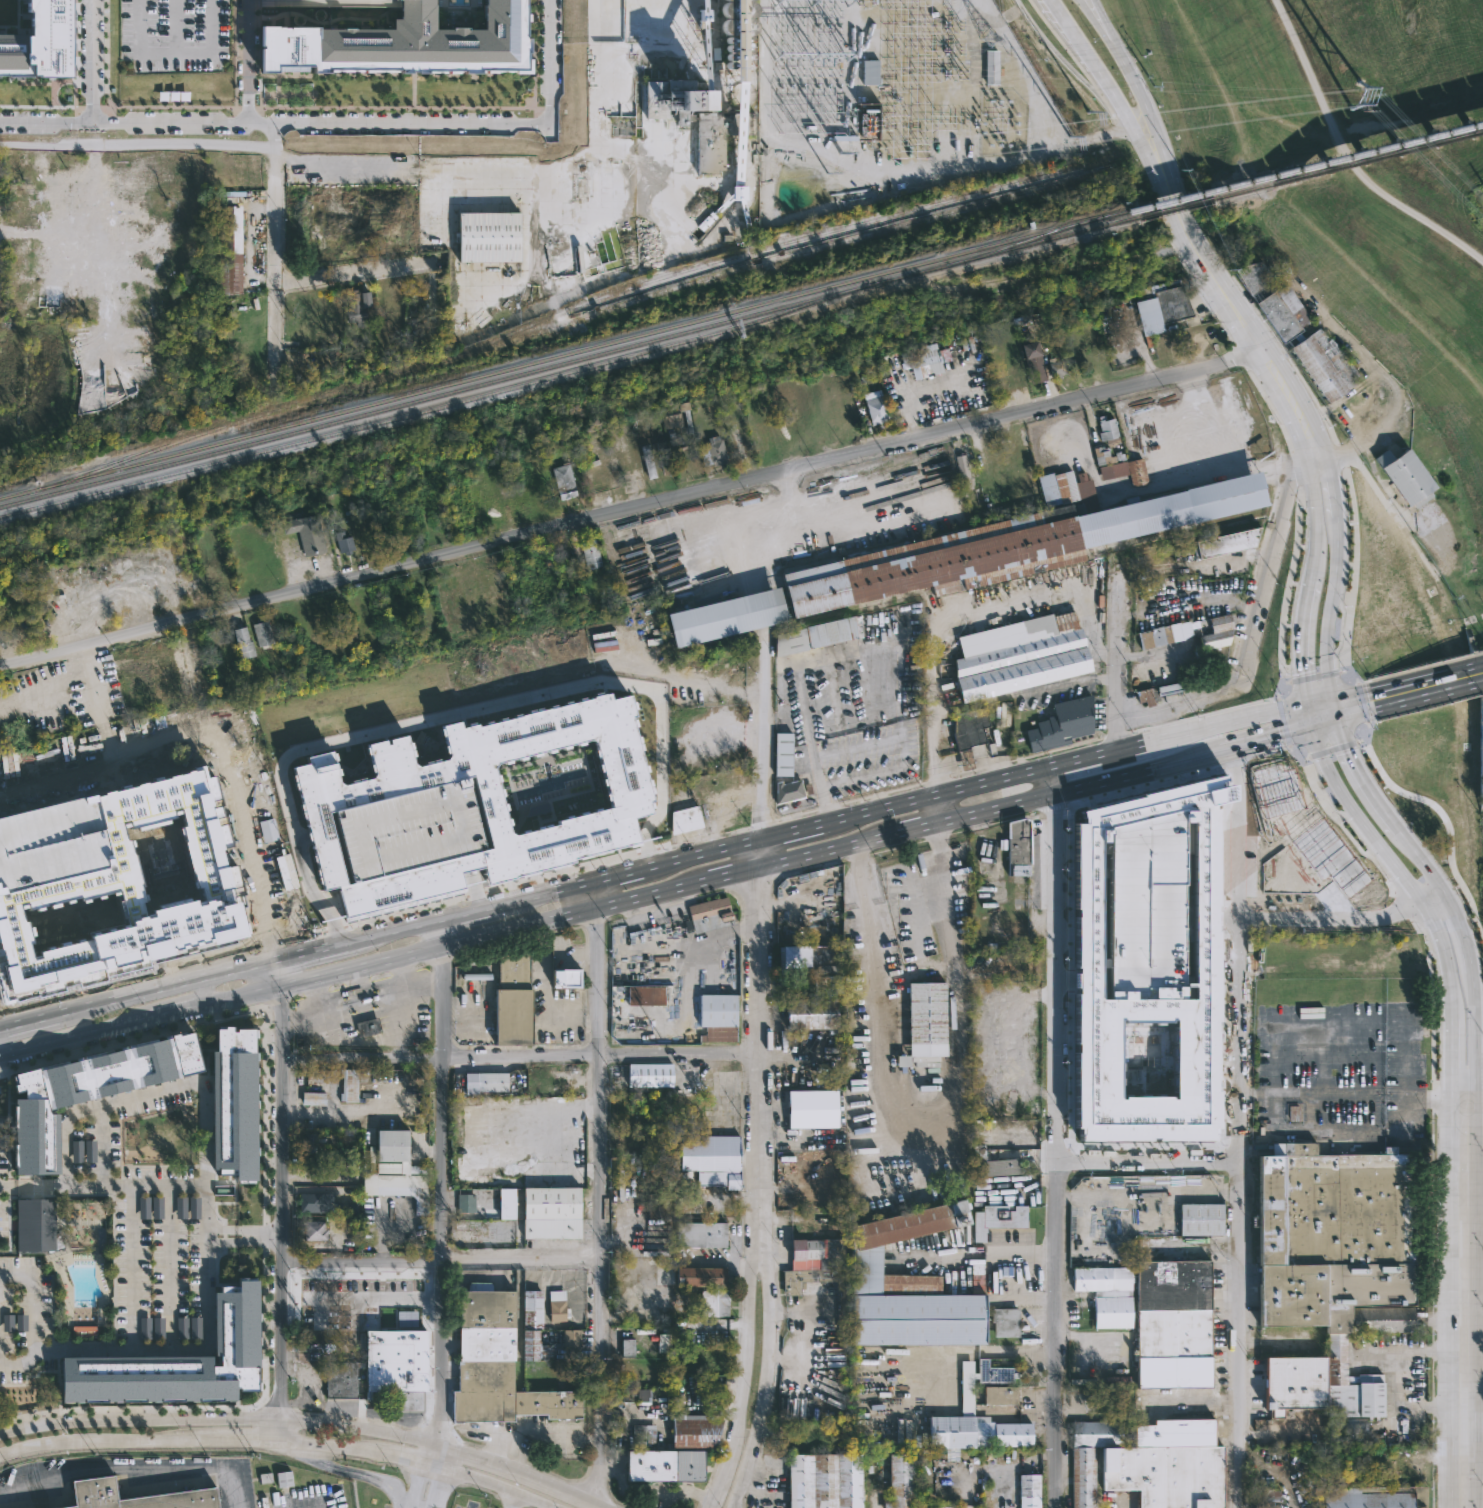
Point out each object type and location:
road: (318, 1)
road: (1091, 22)
road: (1099, 22)
building: (736, 33)
parking lot: (175, 34)
power tower: (983, 36)
building: (39, 42)
building: (401, 42)
road: (171, 52)
road: (97, 61)
road: (549, 62)
building: (991, 66)
building: (870, 71)
road: (1096, 77)
road: (1140, 93)
power tower: (1358, 95)
power substation: (891, 106)
power tower: (1090, 113)
road: (1280, 119)
building: (867, 121)
road: (48, 123)
road: (321, 123)
building: (725, 130)
power tower: (1071, 138)
road: (136, 144)
power tower: (841, 150)
road: (1348, 155)
park: (1355, 161)
railway: (1310, 163)
road: (506, 171)
power tower: (828, 172)
railway: (1311, 172)
road: (273, 179)
building: (489, 236)
railway: (822, 247)
building: (229, 248)
road: (1196, 254)
road: (352, 272)
building: (1253, 275)
road: (1387, 296)
building: (356, 306)
building: (1161, 306)
railway: (565, 309)
building: (1284, 312)
railway: (496, 344)
road: (1142, 346)
railway: (568, 351)
building: (925, 359)
railway: (569, 360)
building: (1035, 360)
building: (1325, 364)
building: (1012, 370)
road: (914, 395)
building: (1355, 403)
building: (874, 407)
road: (1296, 407)
railway: (425, 408)
building: (672, 415)
road: (1090, 419)
building: (714, 450)
building: (1116, 456)
road: (1221, 456)
building: (663, 458)
building: (648, 461)
building: (964, 472)
building: (1408, 476)
building: (563, 481)
road: (1164, 483)
building: (1064, 488)
road: (1332, 491)
road: (791, 504)
road: (629, 510)
road: (1313, 512)
building: (305, 533)
road: (796, 536)
building: (345, 542)
building: (1227, 543)
building: (1007, 547)
building: (590, 554)
road: (1329, 605)
road: (1254, 613)
building: (727, 616)
road: (1302, 627)
building: (261, 632)
building: (1190, 633)
building: (814, 636)
building: (243, 643)
road: (861, 648)
building: (1019, 656)
road: (1116, 658)
road: (1062, 684)
road: (1423, 684)
building: (1161, 692)
traffic signals: (1332, 696)
road: (1348, 697)
road: (1320, 699)
traffic signals: (1308, 702)
road: (973, 704)
road: (1334, 706)
road: (1350, 707)
road: (1273, 710)
road: (1310, 712)
road: (937, 713)
traffic signals: (1337, 716)
road: (1325, 719)
traffic signals: (1313, 723)
building: (1062, 725)
road: (660, 728)
building: (969, 728)
road: (375, 731)
road: (728, 732)
road: (1176, 734)
road: (200, 735)
road: (1268, 735)
road: (761, 737)
road: (858, 744)
road: (1105, 752)
building: (783, 754)
road: (1070, 761)
road: (1359, 777)
road: (1079, 787)
building: (788, 791)
building: (482, 796)
road: (934, 796)
building: (684, 817)
road: (1357, 821)
building: (408, 825)
parking lot: (408, 825)
road: (334, 829)
building: (268, 830)
road: (319, 833)
road: (790, 833)
road: (908, 835)
road: (302, 837)
building: (51, 845)
parking garage: (51, 845)
building: (1018, 846)
road: (760, 856)
road: (822, 856)
road: (466, 860)
building: (164, 861)
building: (1253, 861)
road: (1422, 863)
building: (286, 871)
road: (737, 876)
road: (473, 889)
building: (135, 891)
road: (1433, 903)
parking garage: (1150, 908)
building: (710, 914)
road: (1331, 918)
building: (76, 919)
road: (1460, 933)
road: (377, 934)
road: (458, 941)
road: (1442, 955)
building: (809, 957)
building: (1150, 958)
road: (1054, 965)
building: (566, 979)
road: (412, 980)
road: (380, 983)
building: (827, 983)
road: (205, 991)
road: (342, 993)
building: (650, 995)
building: (511, 997)
road: (179, 1010)
building: (1311, 1011)
building: (811, 1012)
road: (306, 1013)
building: (718, 1017)
building: (925, 1020)
building: (367, 1026)
road: (1475, 1036)
road: (74, 1037)
road: (1451, 1053)
road: (759, 1055)
road: (521, 1057)
building: (925, 1061)
building: (650, 1075)
building: (494, 1081)
building: (348, 1084)
road: (1473, 1090)
building: (86, 1091)
road: (152, 1091)
road: (1245, 1092)
road: (1317, 1092)
building: (312, 1098)
road: (1423, 1099)
building: (234, 1101)
road: (561, 1108)
building: (816, 1108)
road: (339, 1113)
road: (1239, 1125)
building: (317, 1141)
building: (392, 1143)
road: (101, 1144)
road: (1465, 1146)
road: (927, 1149)
building: (77, 1151)
building: (90, 1151)
building: (710, 1159)
building: (992, 1163)
road: (1149, 1163)
road: (441, 1181)
road: (600, 1192)
road: (1475, 1193)
road: (282, 1197)
building: (321, 1203)
building: (466, 1203)
building: (505, 1203)
building: (657, 1205)
building: (144, 1207)
building: (157, 1207)
building: (180, 1207)
building: (550, 1212)
building: (998, 1218)
building: (1201, 1218)
building: (33, 1226)
road: (244, 1228)
building: (315, 1229)
building: (700, 1234)
road: (244, 1242)
road: (206, 1249)
building: (813, 1252)
building: (1338, 1253)
road: (441, 1260)
road: (128, 1266)
building: (700, 1276)
building: (900, 1286)
building: (1107, 1294)
road: (359, 1298)
building: (714, 1302)
building: (557, 1306)
road: (33, 1313)
building: (1005, 1322)
building: (1173, 1324)
building: (532, 1326)
road: (1056, 1335)
building: (571, 1339)
building: (664, 1339)
road: (1272, 1341)
building: (627, 1347)
road: (1466, 1351)
road: (1409, 1352)
building: (178, 1360)
building: (498, 1364)
building: (396, 1365)
road: (740, 1376)
road: (762, 1376)
building: (340, 1379)
building: (997, 1383)
building: (1295, 1384)
road: (1474, 1399)
road: (1405, 1406)
road: (219, 1414)
building: (639, 1432)
building: (973, 1434)
road: (281, 1436)
road: (537, 1436)
building: (675, 1451)
road: (435, 1453)
building: (1089, 1456)
road: (501, 1465)
building: (1168, 1465)
road: (129, 1468)
building: (284, 1479)
building: (824, 1481)
building: (900, 1481)
road: (429, 1485)
building: (1029, 1491)
building: (95, 1494)
building: (1266, 1498)
road: (510, 1499)
road: (586, 1499)
building: (1360, 1499)
building: (941, 1507)

